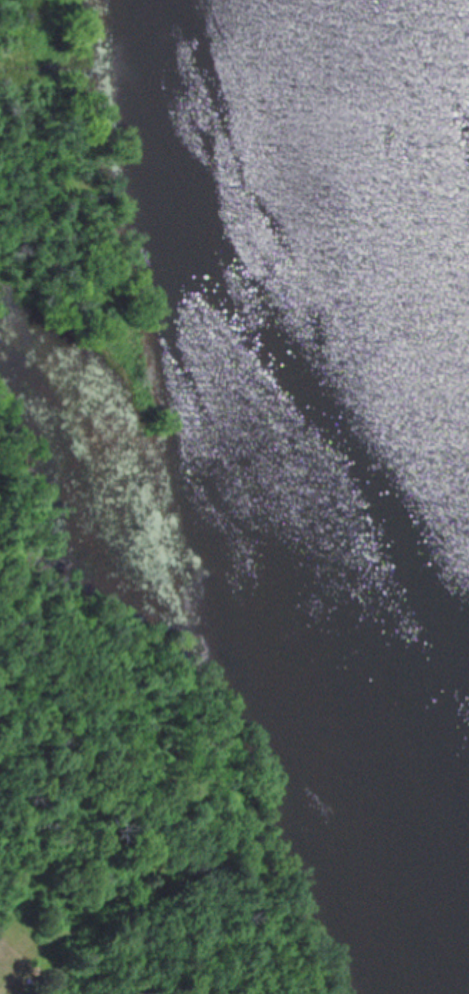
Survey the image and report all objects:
river: (348, 361)

